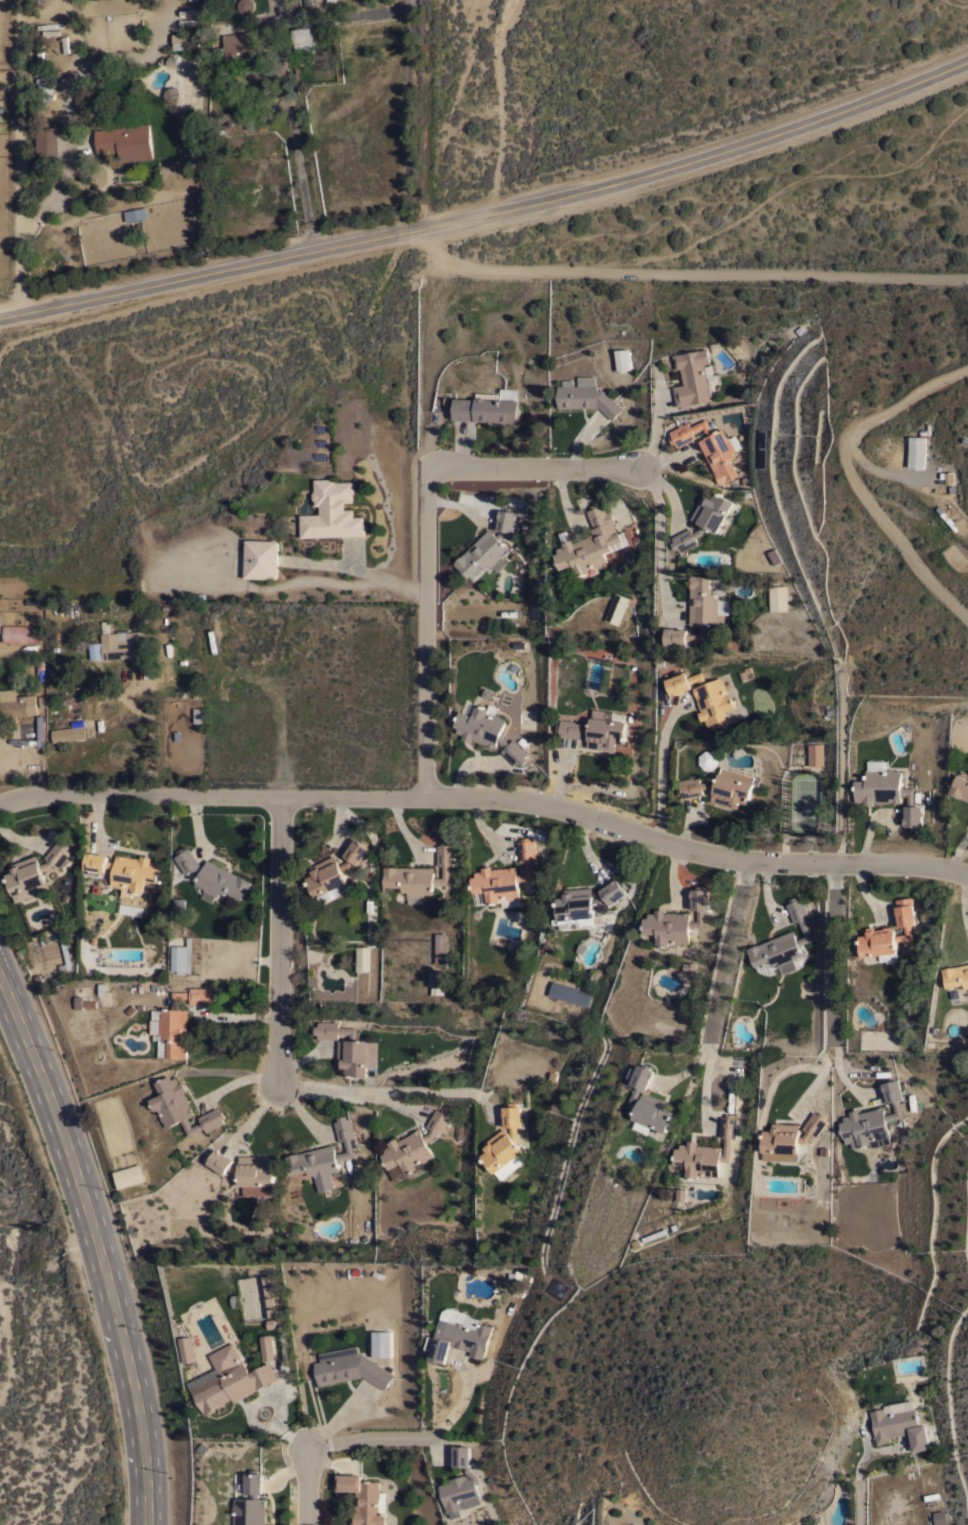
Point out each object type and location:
building: (330, 0)
building: (245, 5)
road: (67, 20)
building: (184, 41)
building: (303, 41)
building: (241, 48)
road: (96, 65)
road: (297, 126)
building: (47, 140)
building: (125, 141)
road: (19, 157)
road: (52, 190)
road: (490, 211)
building: (136, 214)
road: (682, 274)
building: (621, 358)
building: (692, 377)
building: (586, 396)
building: (485, 408)
building: (709, 447)
building: (916, 451)
road: (885, 472)
road: (856, 479)
building: (332, 511)
building: (703, 519)
road: (430, 528)
building: (590, 542)
building: (488, 543)
building: (773, 555)
building: (261, 558)
road: (359, 569)
building: (192, 594)
building: (777, 597)
building: (703, 606)
building: (616, 608)
building: (21, 632)
building: (676, 636)
building: (122, 643)
building: (95, 649)
building: (55, 672)
building: (704, 696)
building: (16, 703)
building: (197, 714)
road: (148, 723)
building: (596, 729)
building: (488, 731)
building: (68, 733)
building: (815, 754)
building: (708, 759)
road: (13, 762)
road: (661, 776)
building: (960, 786)
building: (720, 787)
building: (888, 793)
road: (488, 798)
building: (124, 870)
building: (334, 871)
building: (34, 872)
building: (421, 872)
building: (505, 874)
building: (212, 876)
building: (179, 903)
building: (584, 904)
building: (677, 919)
building: (888, 931)
building: (783, 939)
road: (279, 940)
building: (439, 947)
road: (835, 953)
building: (182, 956)
building: (362, 958)
building: (689, 967)
building: (956, 975)
road: (719, 992)
building: (570, 993)
building: (177, 1022)
building: (348, 1047)
road: (682, 1070)
road: (387, 1089)
building: (647, 1099)
building: (181, 1107)
building: (873, 1119)
building: (790, 1136)
building: (504, 1143)
building: (414, 1144)
building: (706, 1151)
building: (323, 1156)
building: (246, 1171)
building: (129, 1175)
building: (680, 1194)
road: (104, 1233)
building: (654, 1234)
building: (459, 1338)
building: (381, 1343)
building: (266, 1346)
building: (188, 1348)
building: (349, 1367)
building: (230, 1379)
building: (898, 1423)
road: (403, 1433)
building: (460, 1484)
road: (303, 1487)
building: (364, 1499)
building: (250, 1501)
road: (857, 1502)
building: (940, 1516)

